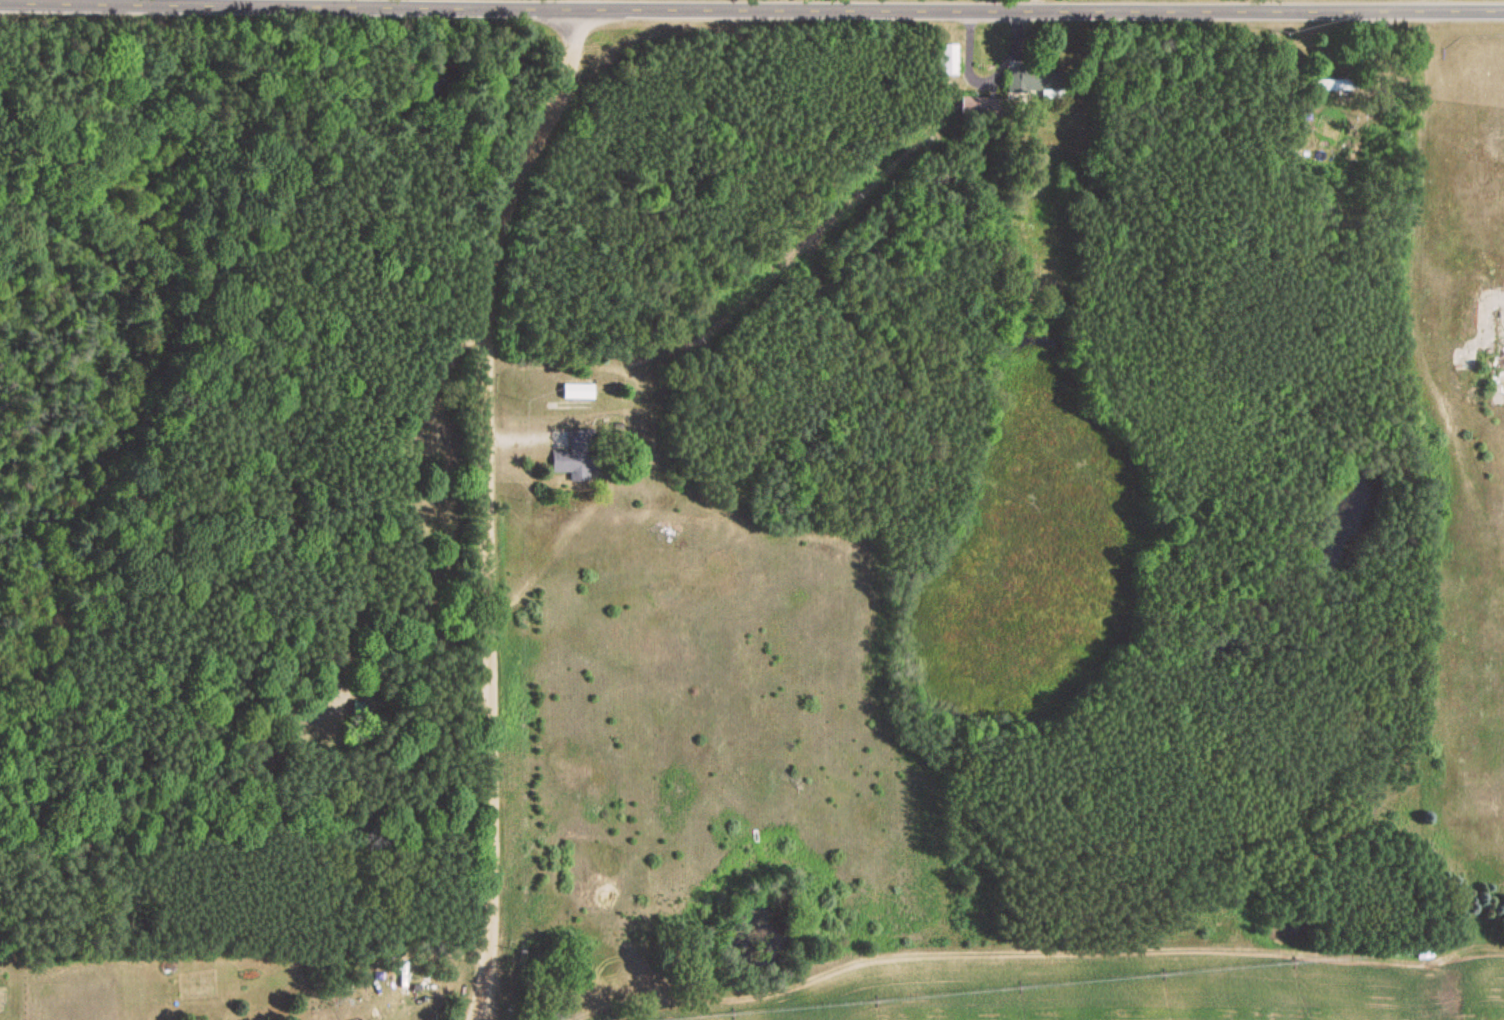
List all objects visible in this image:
road: (1032, 6)
road: (751, 10)
building: (943, 61)
building: (1036, 81)
building: (1329, 85)
building: (975, 108)
building: (571, 465)
road: (489, 507)

